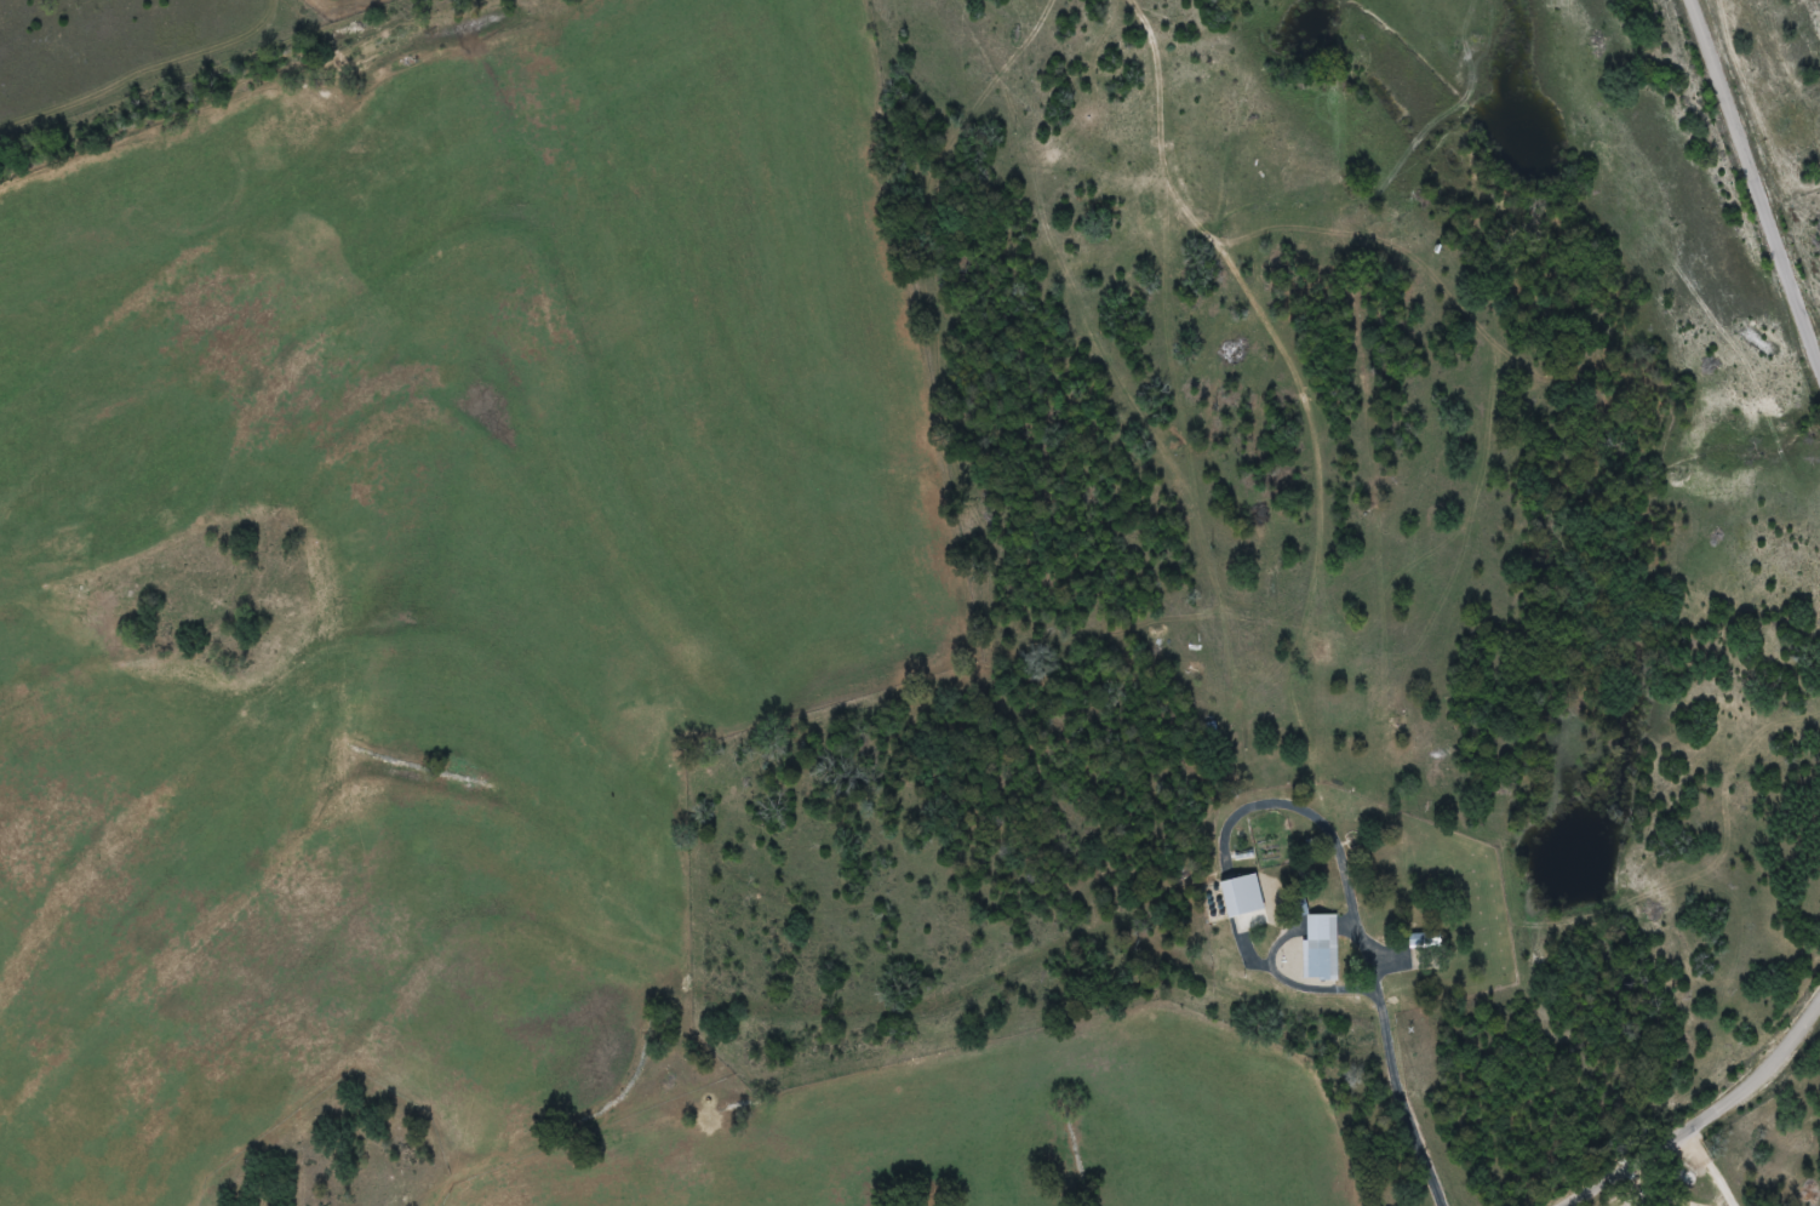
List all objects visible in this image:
road: (1749, 202)
building: (1238, 895)
building: (1320, 947)
road: (1704, 1113)

